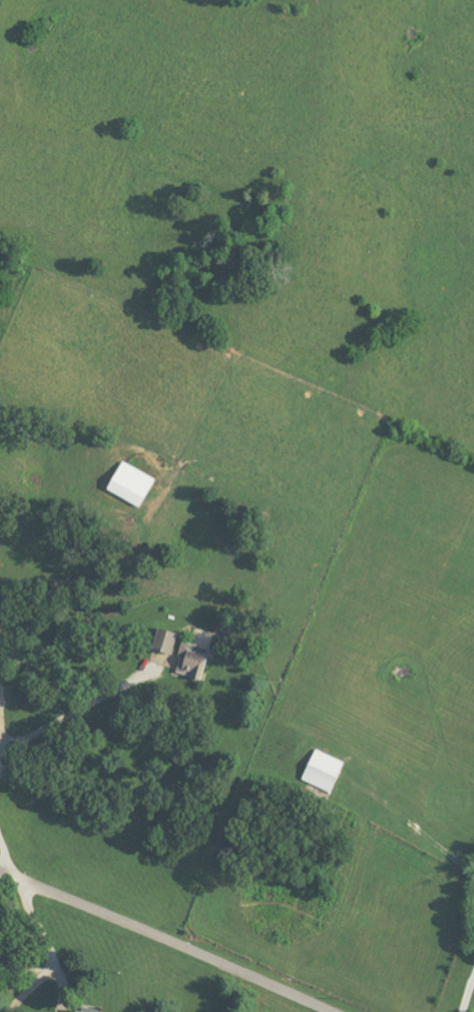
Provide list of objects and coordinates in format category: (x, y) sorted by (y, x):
building: (135, 484)
building: (170, 638)
building: (197, 661)
road: (75, 709)
building: (326, 771)
road: (5, 862)
road: (44, 936)
road: (172, 936)
road: (465, 986)
building: (78, 1011)

